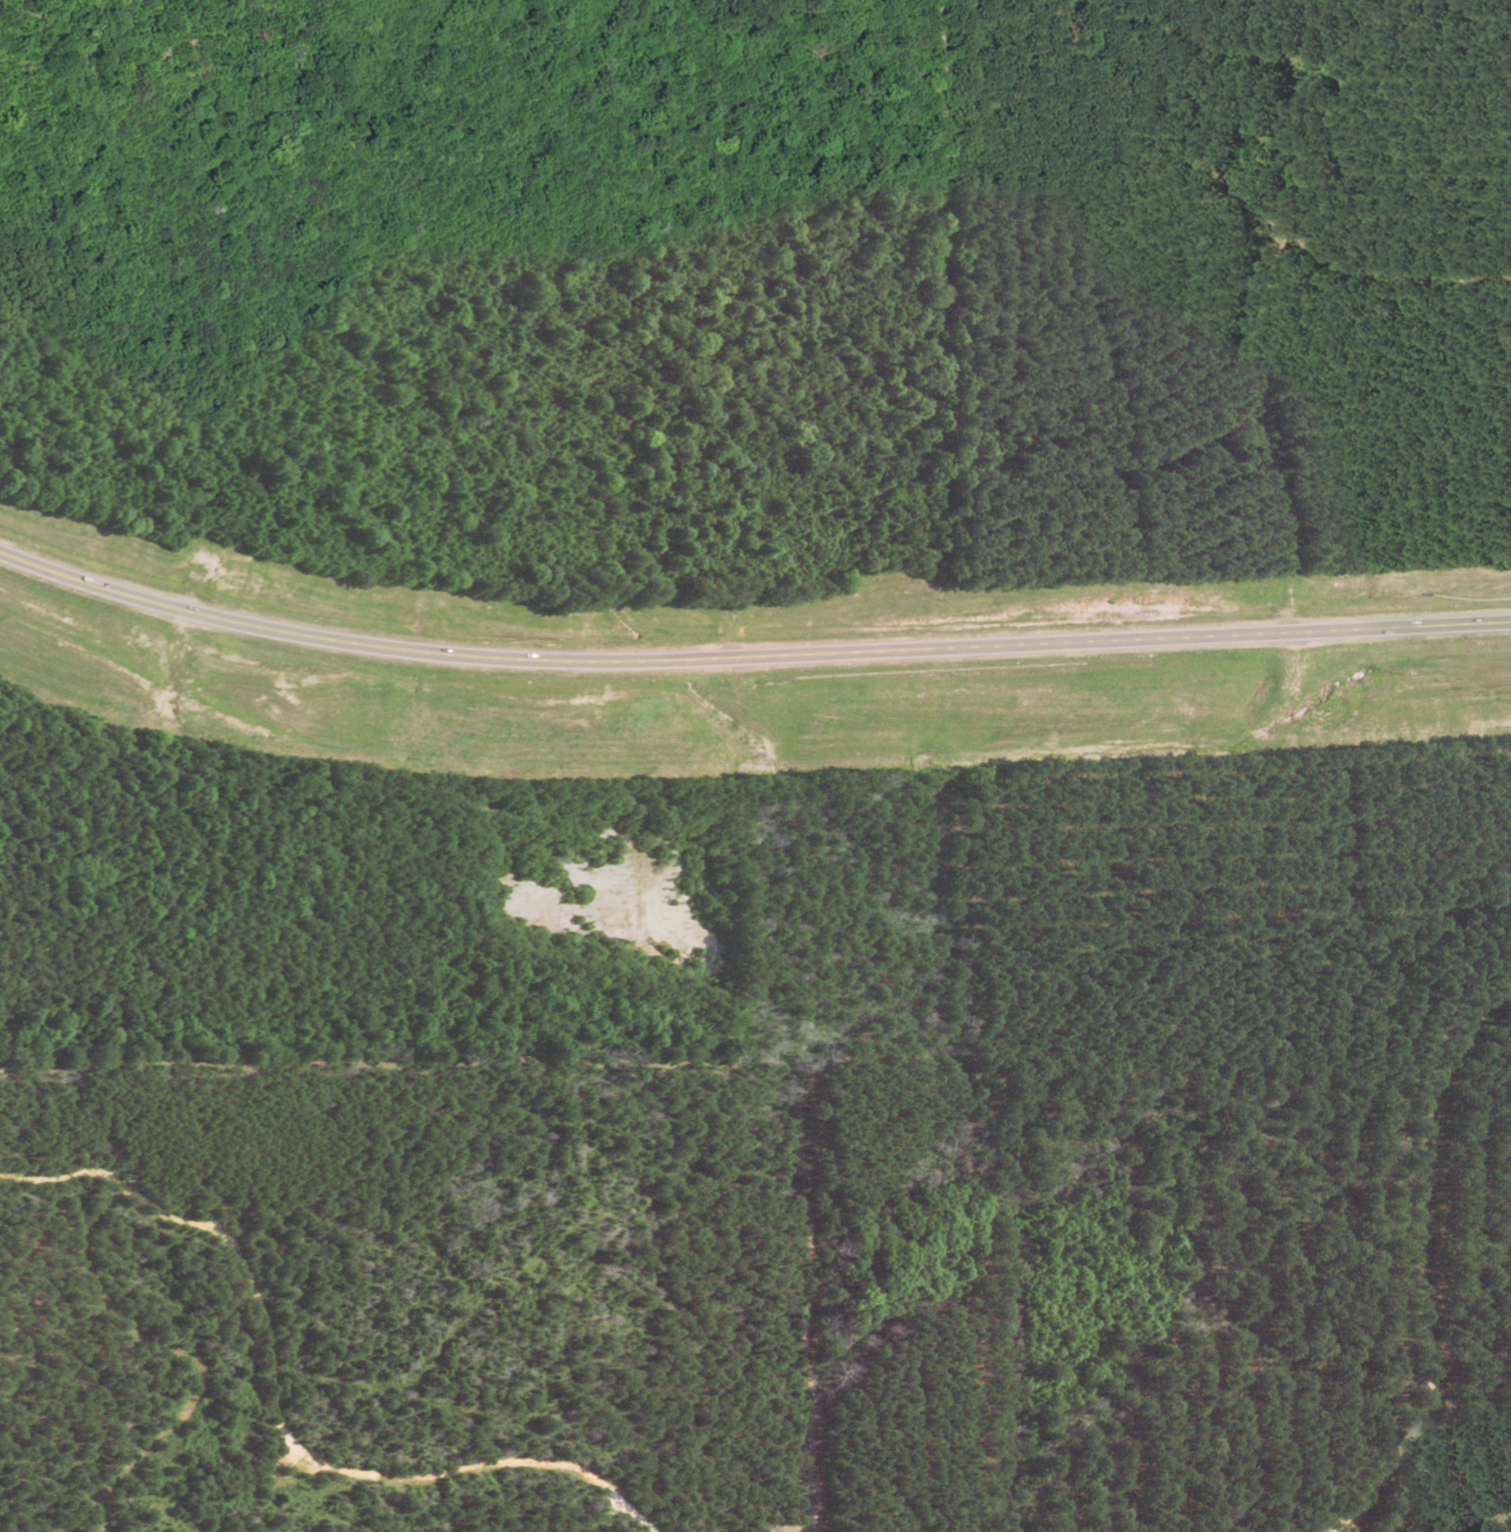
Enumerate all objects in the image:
road: (748, 655)

